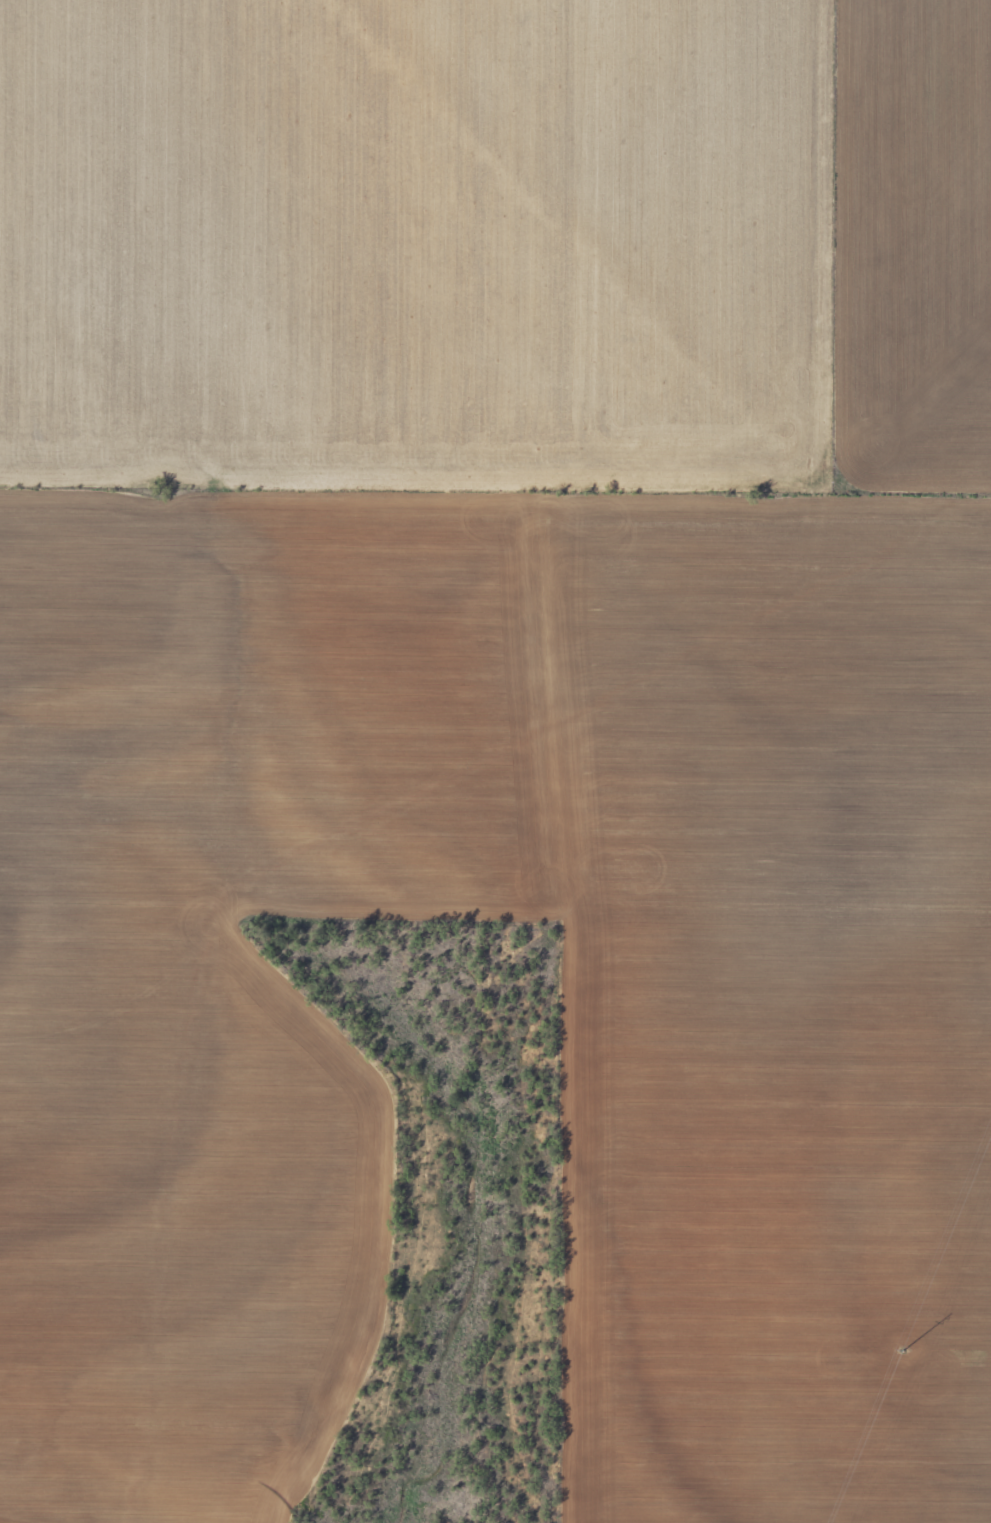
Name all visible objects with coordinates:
power tower: (904, 1344)

